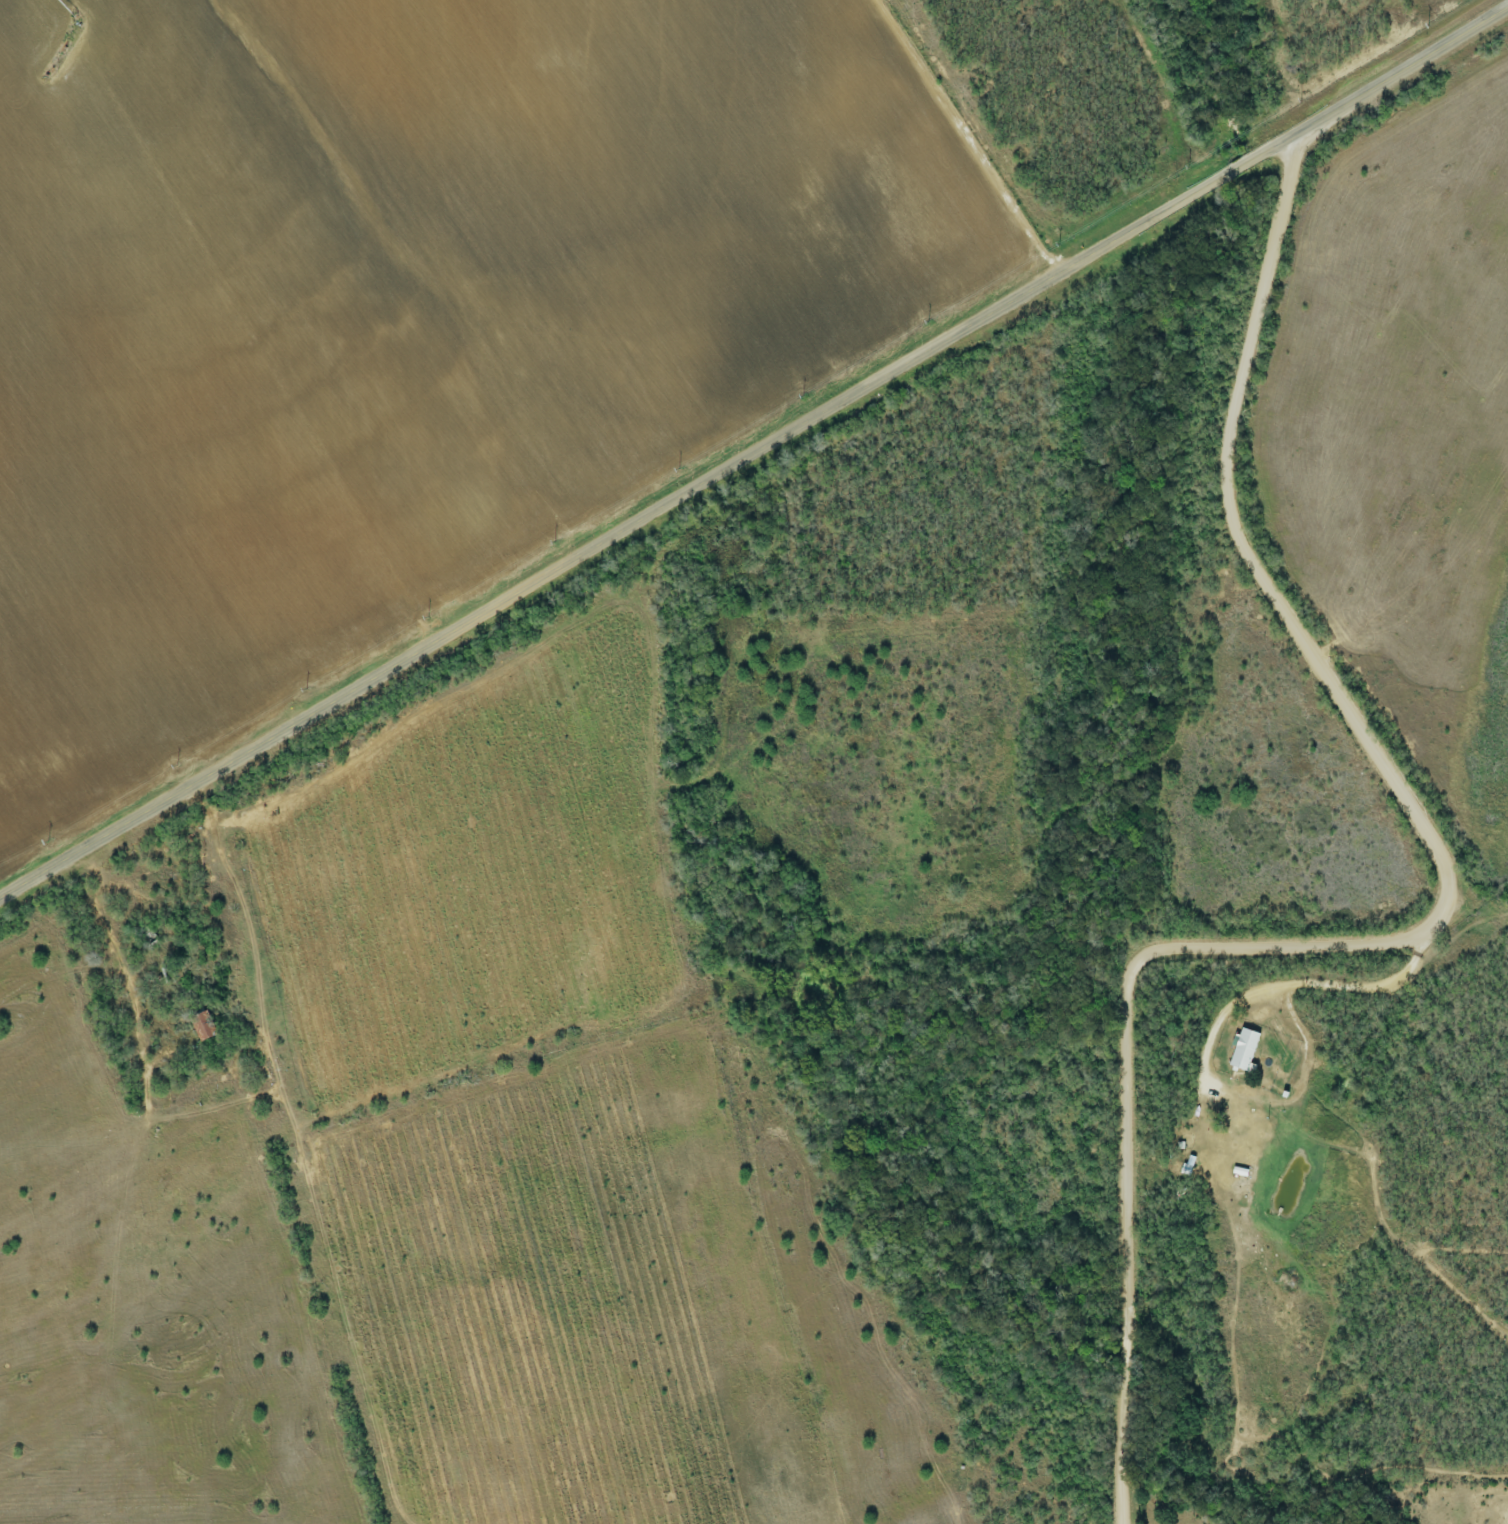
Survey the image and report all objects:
road: (754, 450)
road: (1440, 925)
road: (1301, 985)
building: (1243, 1051)

